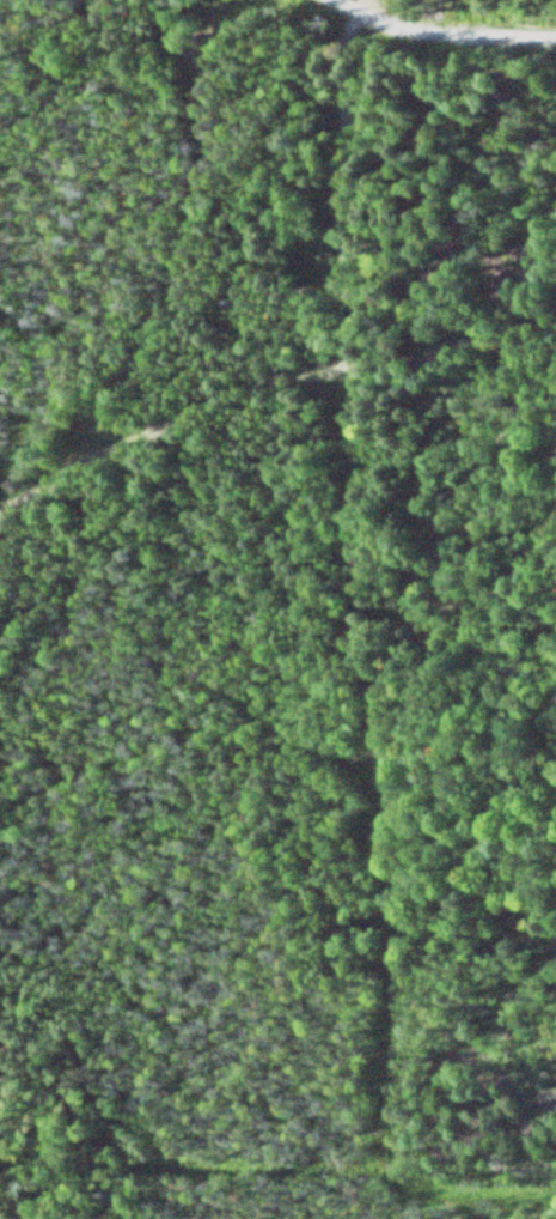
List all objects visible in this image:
road: (479, 1177)

